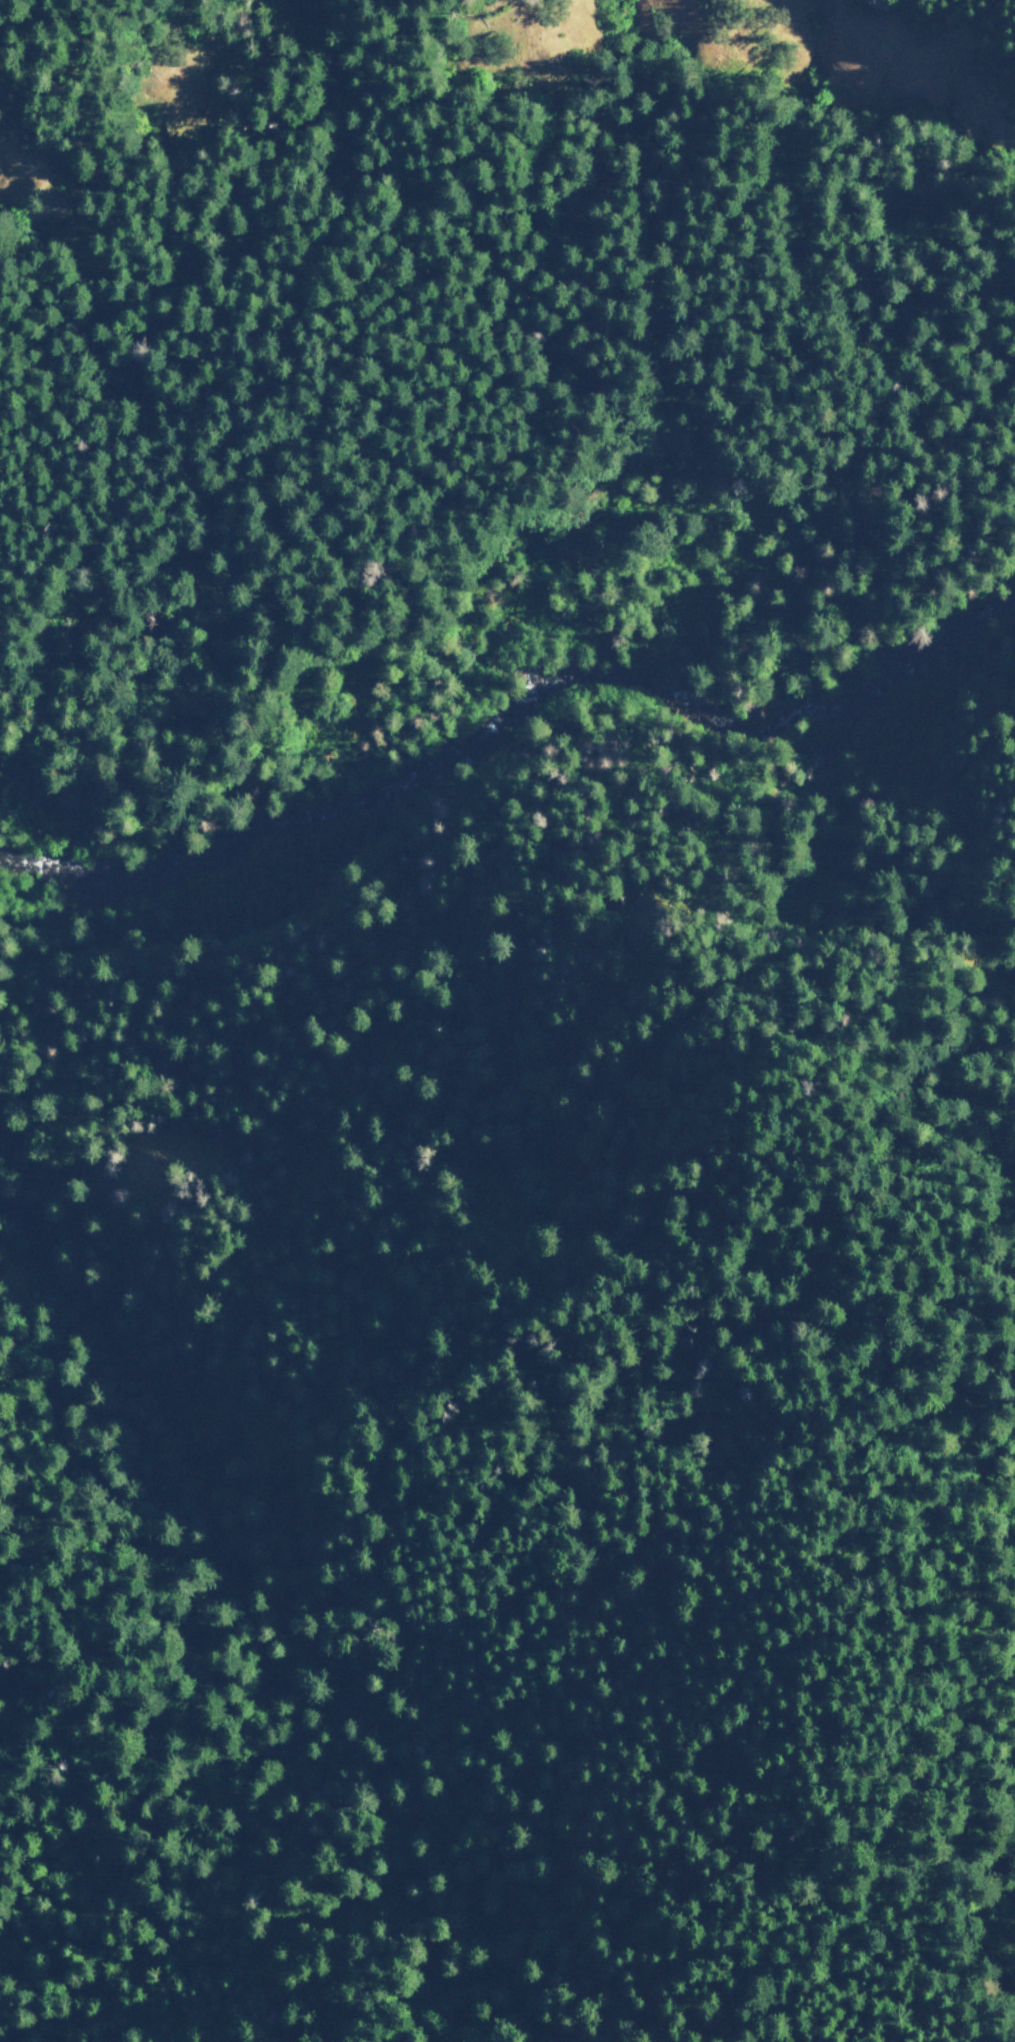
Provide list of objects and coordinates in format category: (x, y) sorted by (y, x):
river: (518, 693)

